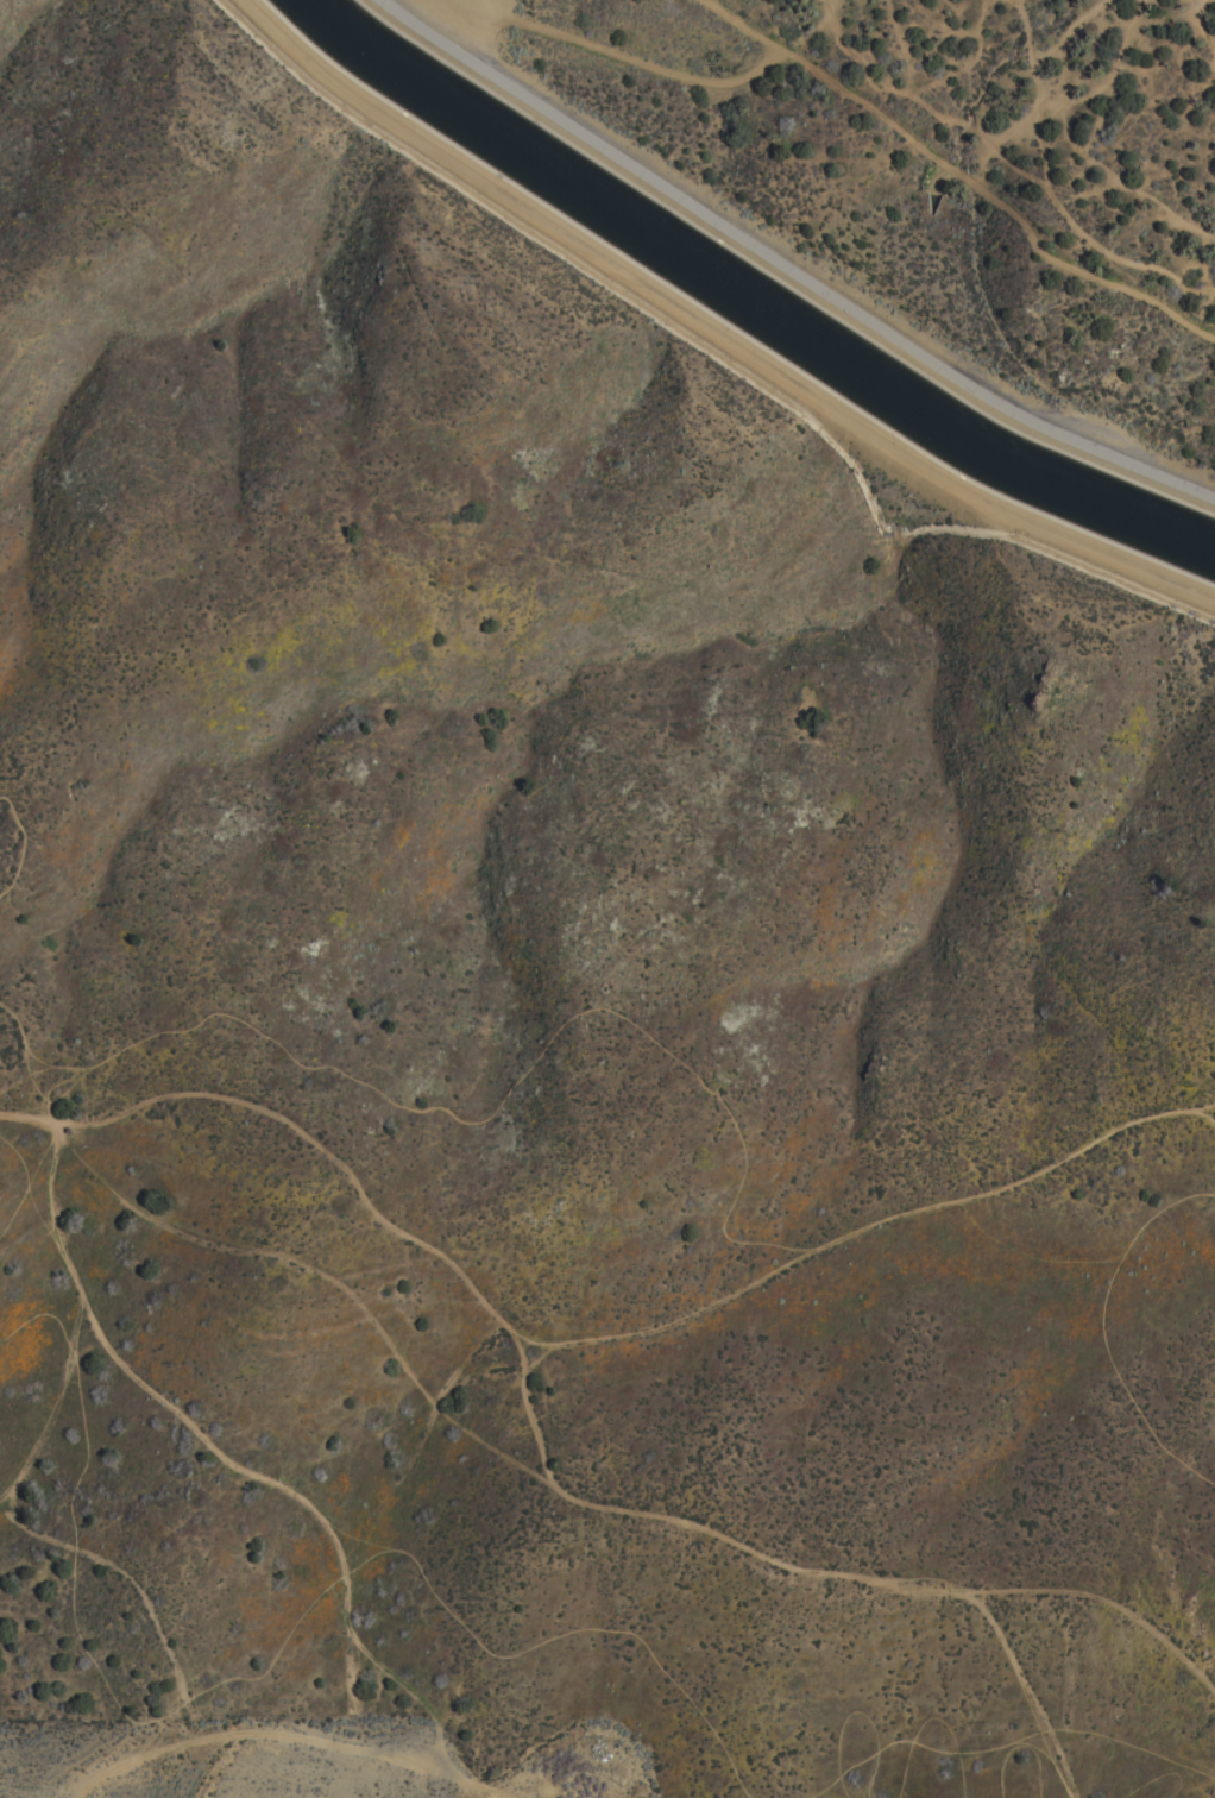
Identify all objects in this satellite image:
road: (791, 266)
road: (710, 327)
road: (18, 841)
road: (1011, 1184)
road: (728, 1219)
road: (257, 1472)
road: (779, 1567)
road: (1091, 1603)

